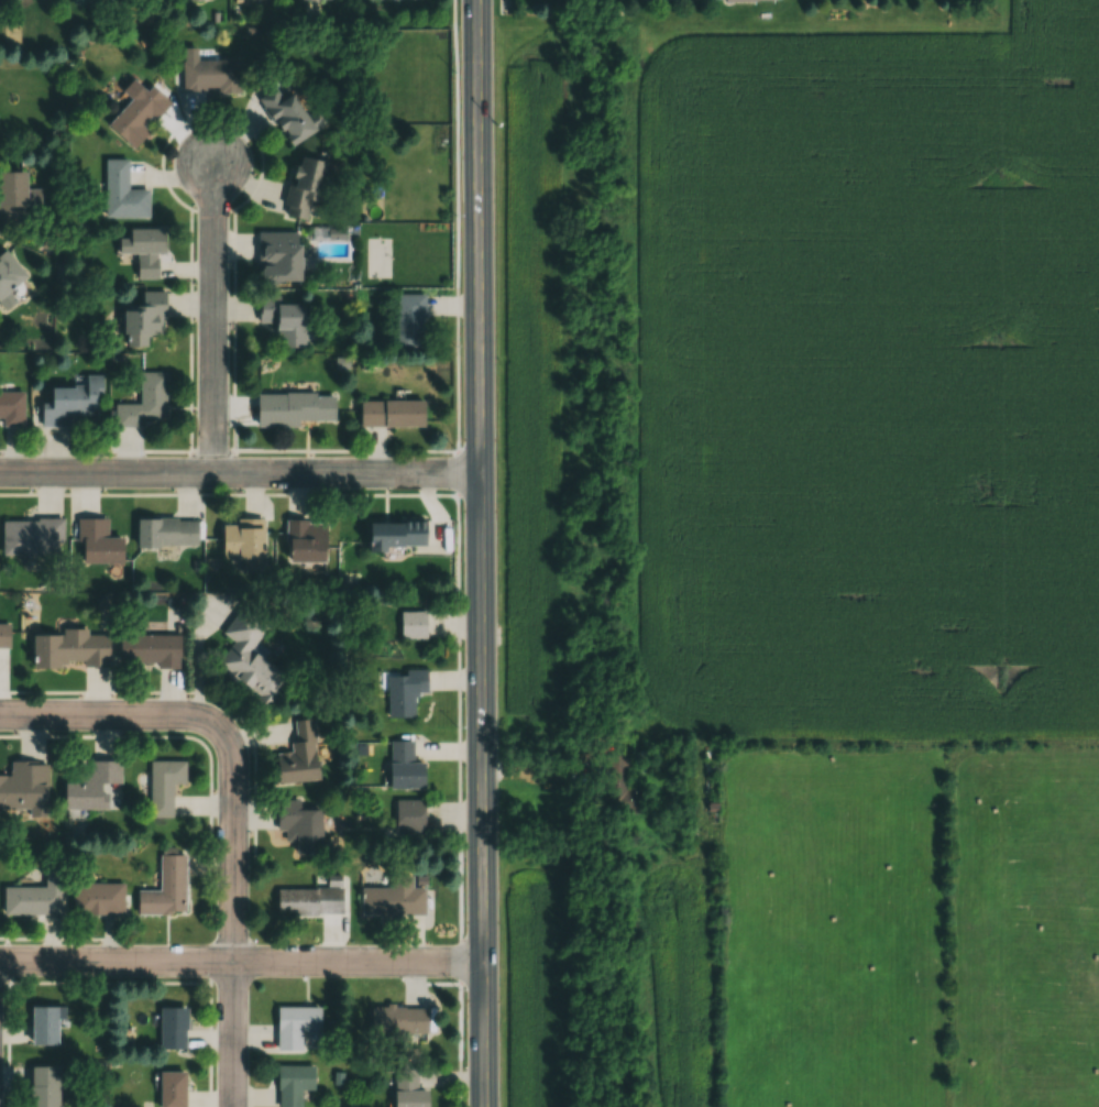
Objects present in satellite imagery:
building: (378, 0)
building: (741, 2)
building: (507, 6)
road: (494, 8)
road: (476, 58)
building: (210, 75)
building: (135, 114)
building: (285, 114)
building: (303, 188)
building: (122, 191)
building: (11, 196)
street lamp: (457, 213)
building: (142, 250)
building: (277, 255)
building: (8, 271)
building: (142, 319)
building: (283, 319)
road: (216, 320)
building: (403, 325)
crop: (526, 399)
building: (143, 402)
building: (72, 403)
building: (295, 407)
building: (11, 408)
building: (383, 418)
street lamp: (458, 439)
road: (240, 476)
building: (166, 530)
building: (32, 536)
building: (386, 539)
building: (241, 540)
building: (305, 540)
building: (97, 542)
road: (452, 553)
road: (481, 612)
building: (404, 628)
building: (3, 635)
building: (69, 649)
building: (149, 650)
building: (249, 658)
building: (395, 695)
street lamp: (458, 723)
road: (218, 738)
building: (298, 754)
building: (395, 771)
road: (538, 775)
building: (163, 785)
building: (91, 786)
building: (24, 788)
building: (616, 793)
building: (400, 821)
building: (299, 825)
building: (165, 889)
building: (34, 897)
building: (97, 898)
building: (309, 900)
building: (387, 907)
road: (240, 963)
crop: (672, 983)
street lamp: (461, 985)
crop: (531, 987)
building: (43, 1026)
building: (391, 1026)
building: (296, 1027)
building: (172, 1028)
road: (227, 1034)
building: (293, 1083)
building: (42, 1086)
building: (397, 1087)
building: (171, 1088)

